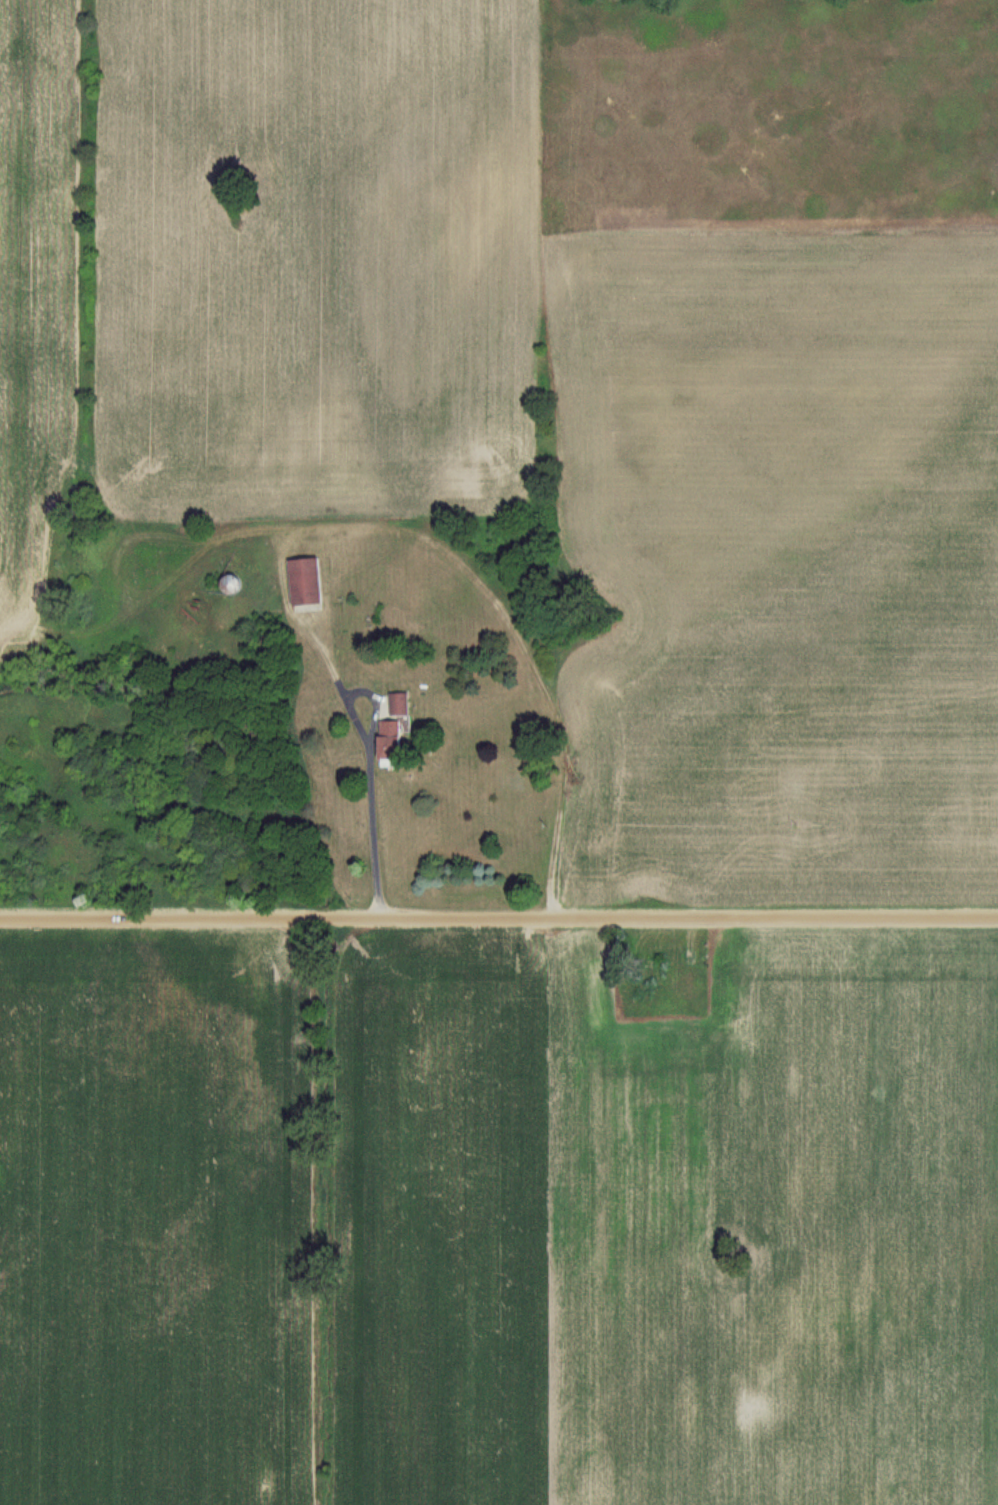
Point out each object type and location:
building: (307, 580)
building: (403, 702)
building: (394, 741)
road: (375, 820)
road: (498, 920)

